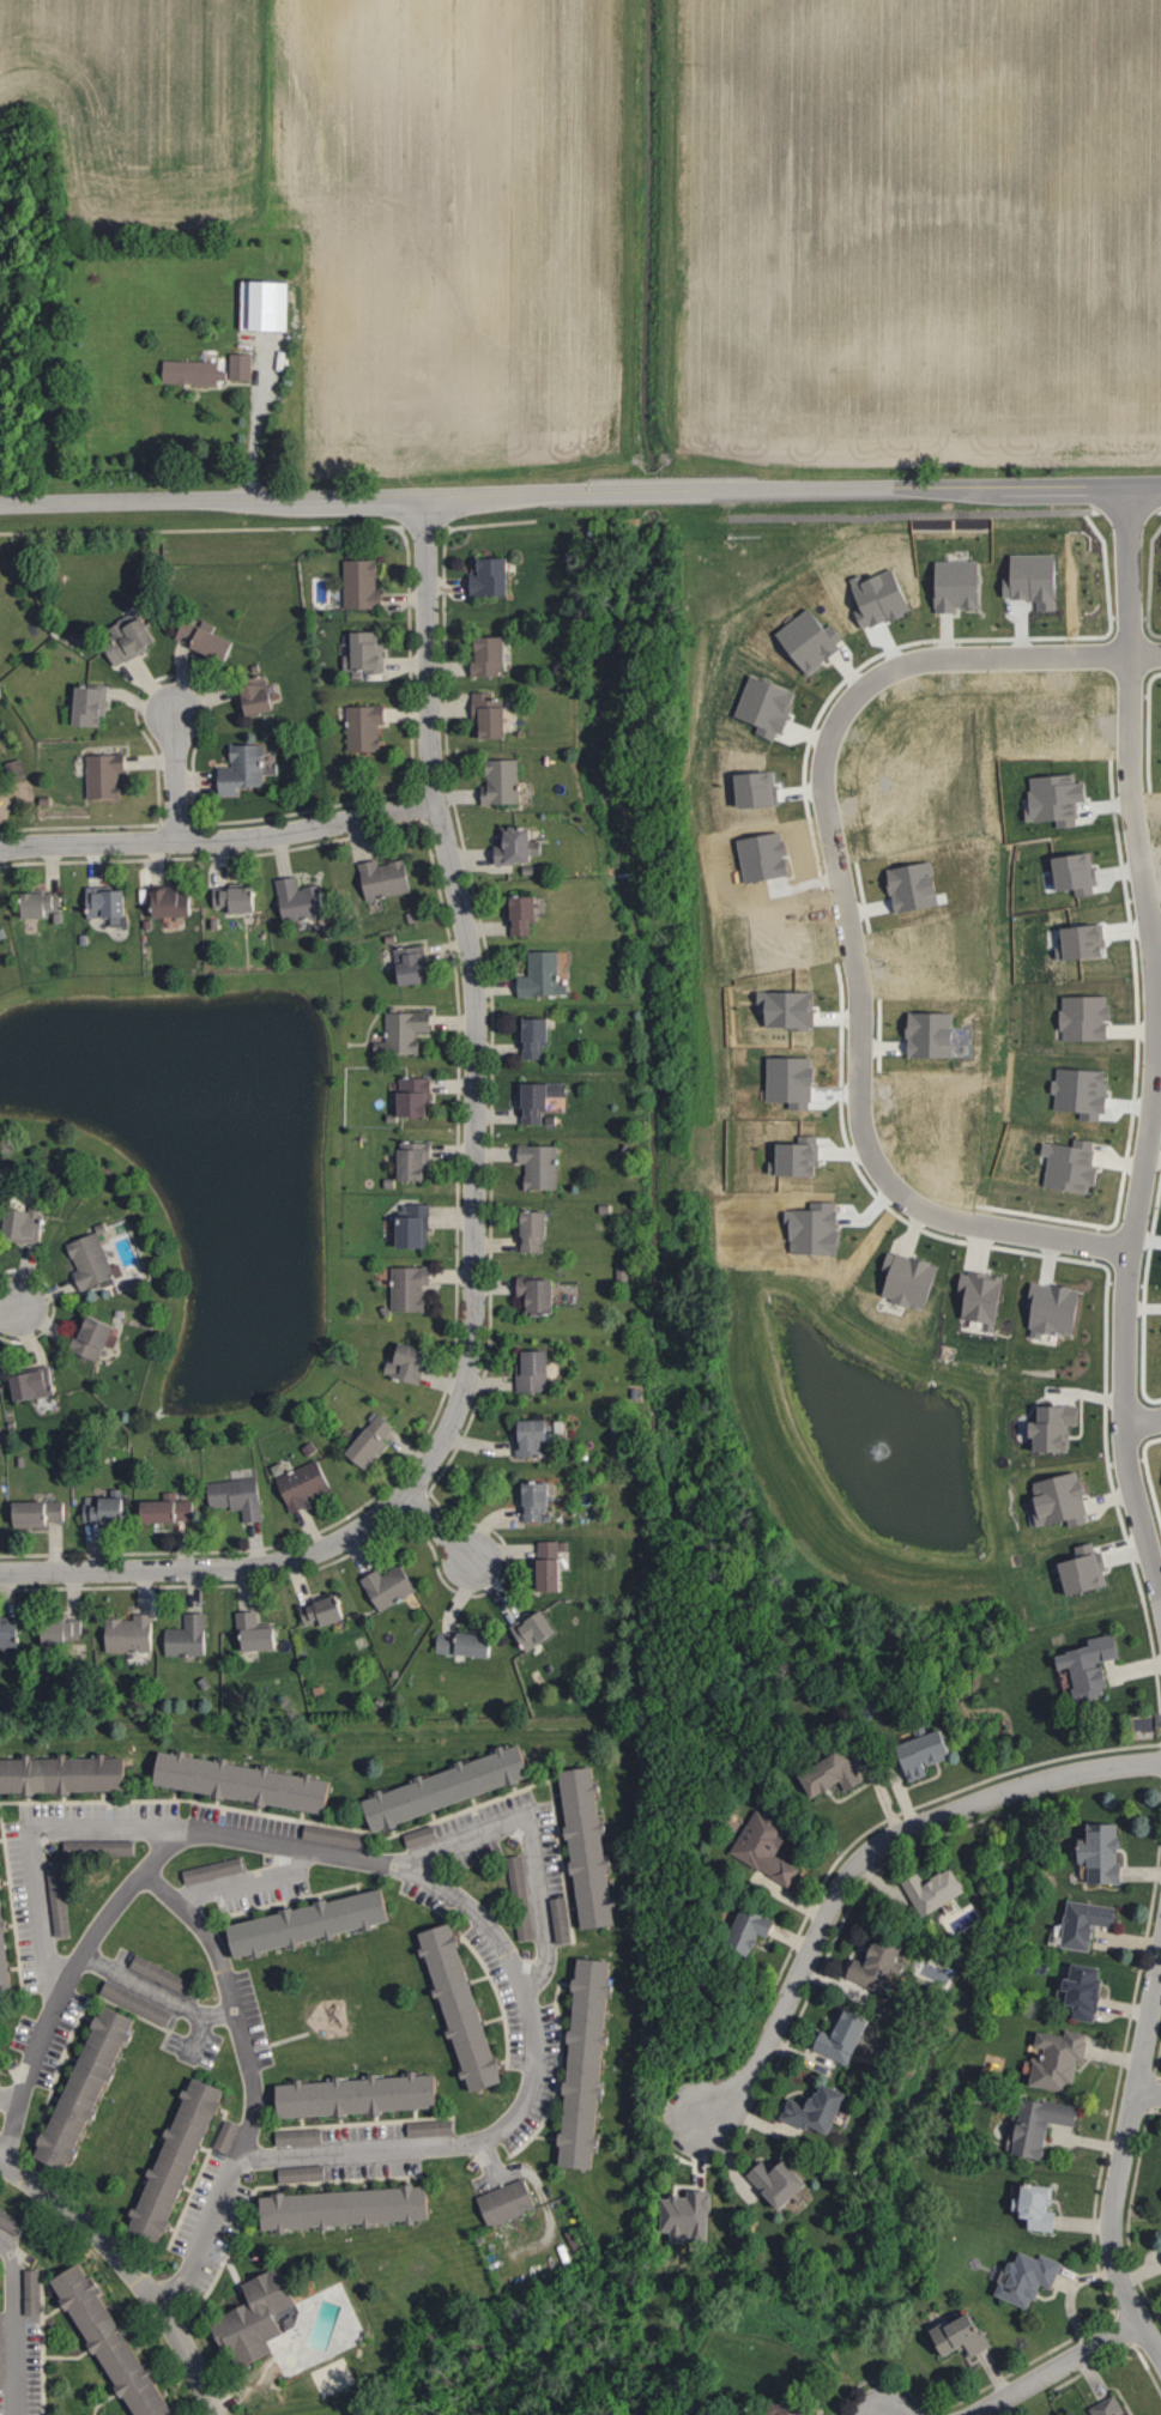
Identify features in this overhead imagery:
building: (271, 305)
building: (242, 367)
building: (194, 373)
road: (254, 429)
road: (580, 492)
building: (491, 576)
building: (363, 585)
road: (1124, 604)
building: (812, 640)
building: (207, 641)
building: (135, 642)
building: (368, 652)
building: (492, 656)
building: (260, 696)
building: (769, 706)
building: (92, 707)
building: (490, 716)
building: (367, 727)
road: (822, 753)
building: (244, 769)
building: (107, 776)
road: (175, 776)
building: (503, 782)
building: (760, 789)
road: (218, 841)
building: (518, 847)
building: (1066, 872)
building: (387, 878)
building: (915, 888)
building: (238, 898)
building: (302, 901)
building: (109, 903)
building: (175, 903)
building: (43, 904)
building: (526, 914)
road: (1157, 933)
building: (1074, 940)
building: (412, 966)
building: (543, 975)
building: (1080, 1017)
building: (405, 1033)
building: (933, 1035)
building: (538, 1037)
building: (417, 1097)
building: (540, 1100)
building: (803, 1158)
building: (417, 1161)
road: (1142, 1161)
building: (1064, 1163)
building: (542, 1167)
road: (472, 1213)
road: (975, 1224)
building: (26, 1225)
building: (416, 1227)
building: (537, 1231)
building: (92, 1263)
building: (903, 1279)
building: (411, 1288)
building: (540, 1295)
building: (974, 1296)
building: (1048, 1308)
road: (8, 1312)
building: (97, 1338)
building: (410, 1363)
building: (534, 1373)
building: (35, 1385)
building: (1045, 1426)
road: (1143, 1426)
building: (534, 1437)
building: (373, 1442)
building: (1160, 1466)
building: (1052, 1499)
building: (528, 1501)
road: (437, 1526)
building: (539, 1564)
building: (1075, 1568)
building: (392, 1586)
building: (325, 1610)
building: (528, 1628)
building: (67, 1630)
building: (259, 1632)
building: (134, 1633)
building: (192, 1635)
building: (1080, 1664)
building: (911, 1751)
building: (822, 1772)
building: (62, 1778)
building: (466, 1778)
building: (242, 1785)
road: (531, 1841)
building: (578, 1847)
building: (760, 1847)
building: (1092, 1852)
road: (866, 1859)
building: (198, 1876)
road: (434, 1882)
road: (246, 1883)
building: (923, 1887)
road: (162, 1890)
building: (59, 1901)
road: (115, 1905)
building: (1077, 1923)
building: (308, 1926)
building: (739, 1929)
building: (4, 1957)
building: (1074, 1990)
road: (155, 1992)
building: (458, 2007)
building: (832, 2035)
building: (1051, 2058)
building: (575, 2066)
road: (26, 2071)
building: (84, 2088)
building: (428, 2089)
road: (1148, 2094)
road: (8, 2101)
building: (805, 2107)
road: (253, 2110)
building: (1030, 2124)
building: (443, 2129)
building: (175, 2160)
road: (1121, 2163)
building: (766, 2179)
building: (1160, 2199)
building: (498, 2202)
building: (1027, 2204)
building: (344, 2209)
building: (681, 2215)
building: (1160, 2244)
road: (128, 2271)
building: (1021, 2277)
building: (256, 2320)
road: (16, 2325)
building: (949, 2334)
road: (1057, 2369)
building: (1102, 2407)
building: (775, 2408)

